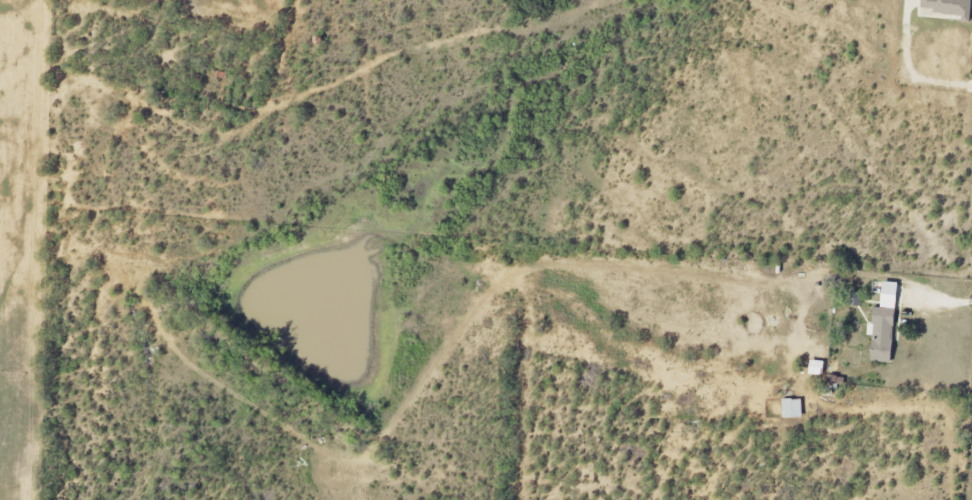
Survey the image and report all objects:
building: (949, 8)
road: (909, 68)
building: (885, 326)
building: (818, 369)
building: (793, 409)

